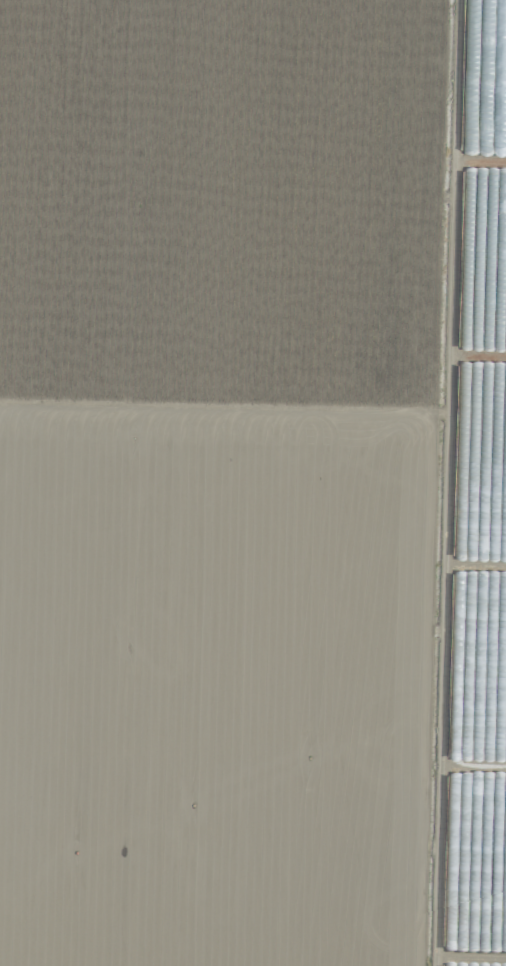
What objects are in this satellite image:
crop: (253, 483)
crop: (471, 542)
crop: (469, 748)
crop: (466, 909)

